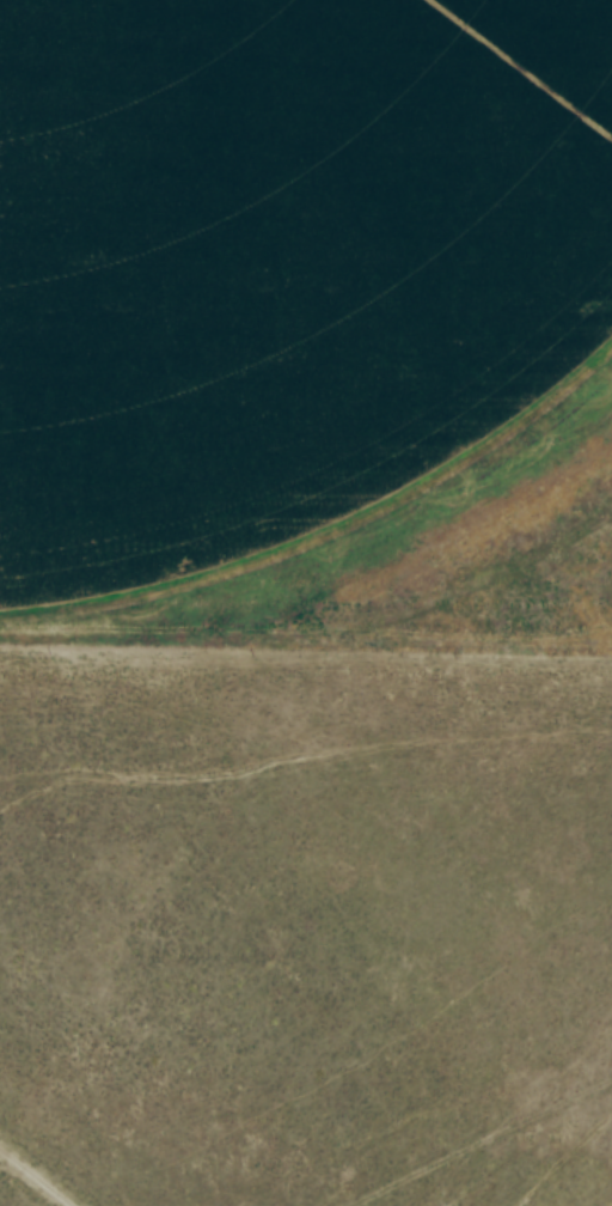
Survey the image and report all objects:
crop: (292, 288)
road: (33, 1177)

